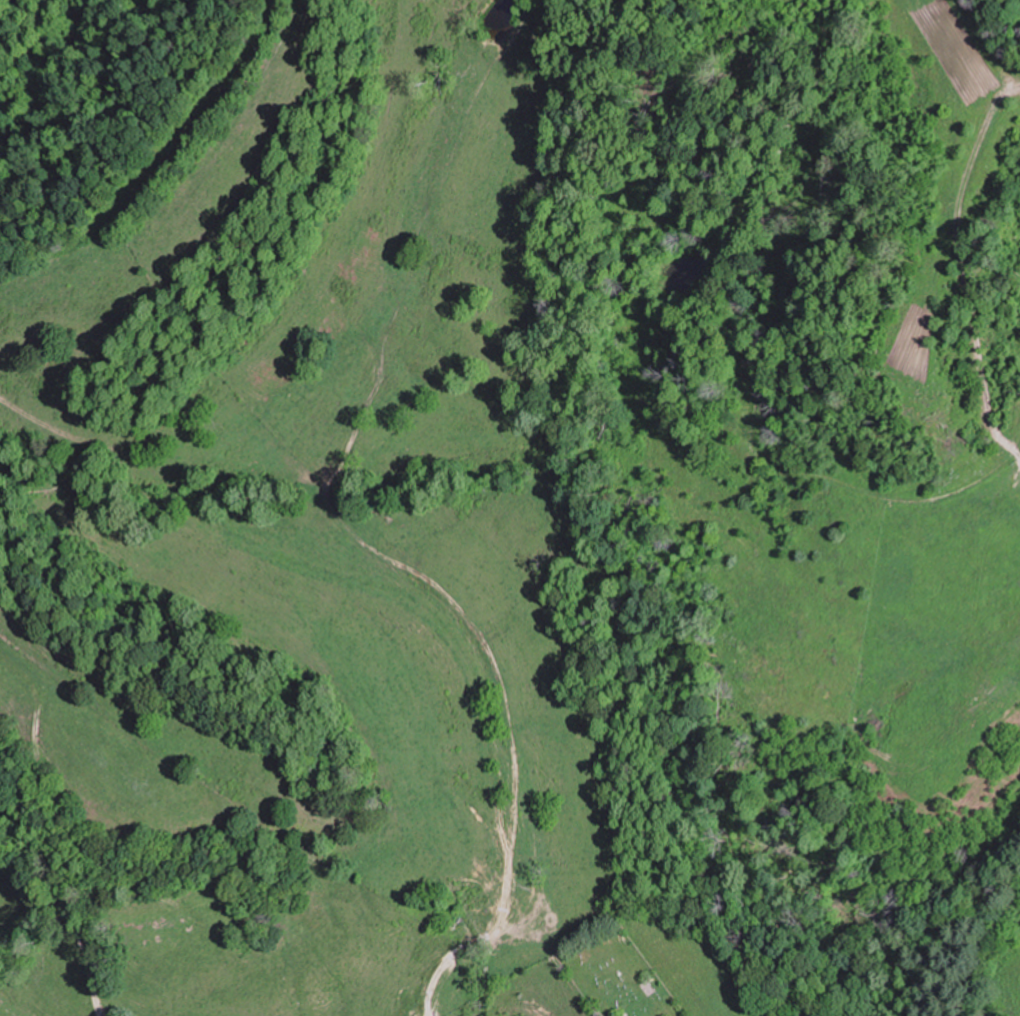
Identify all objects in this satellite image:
road: (961, 189)
park: (617, 977)

